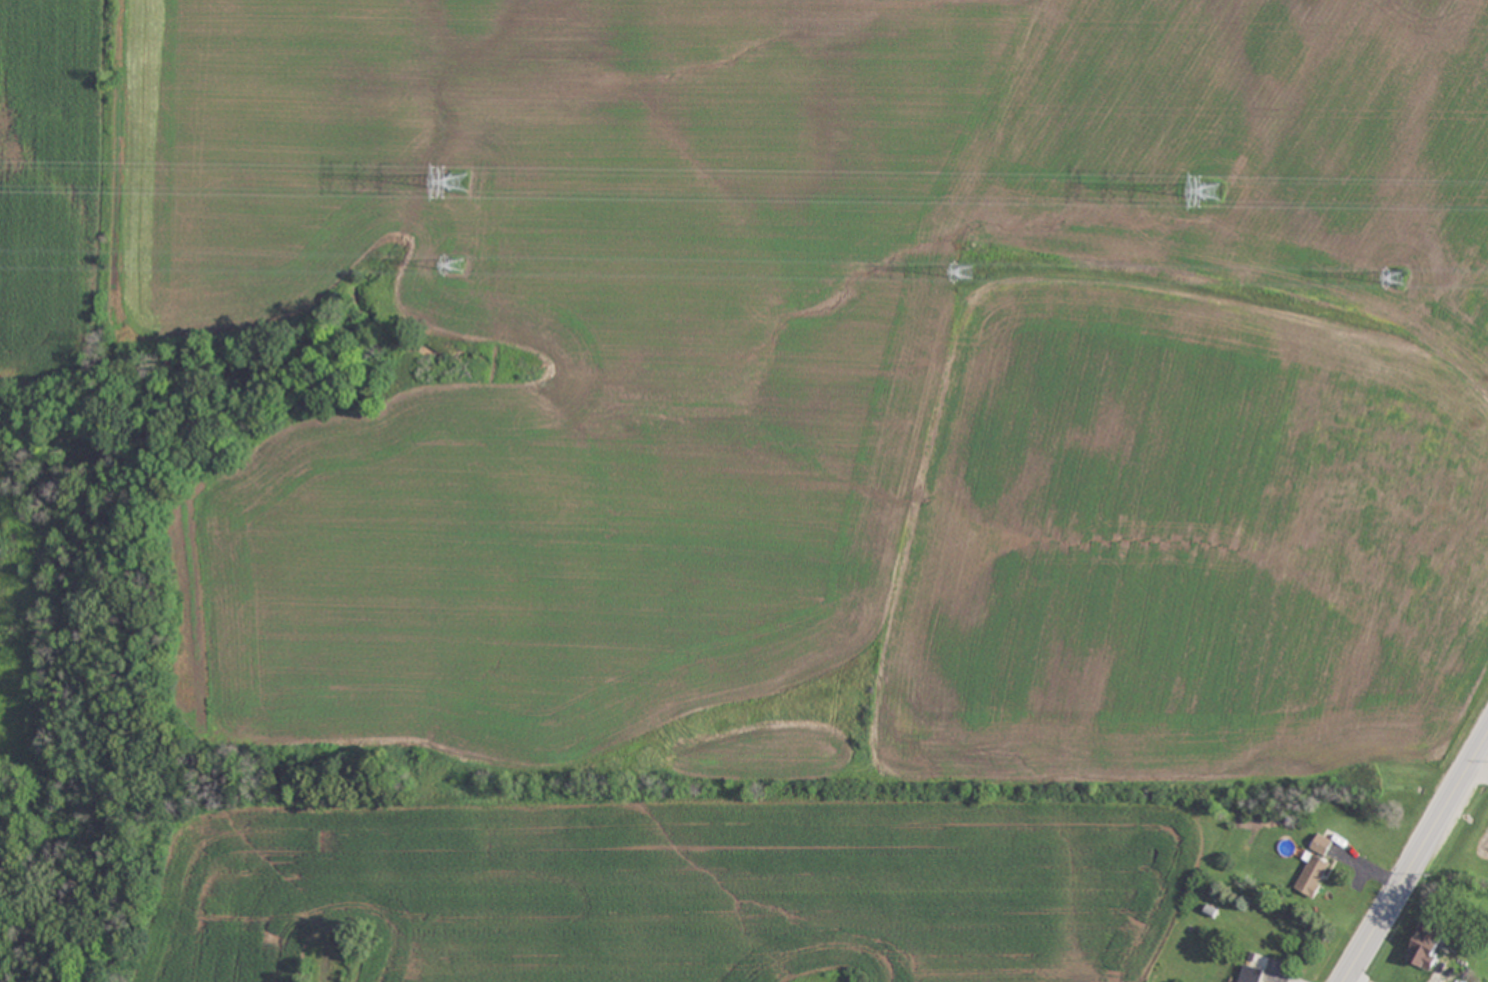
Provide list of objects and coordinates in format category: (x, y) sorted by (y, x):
power tower: (458, 183)
power tower: (1213, 193)
crop: (56, 206)
power tower: (456, 263)
power tower: (970, 273)
power tower: (1397, 276)
road: (1479, 768)
building: (1322, 844)
road: (1415, 858)
building: (1313, 875)
building: (1426, 944)
building: (1251, 974)

